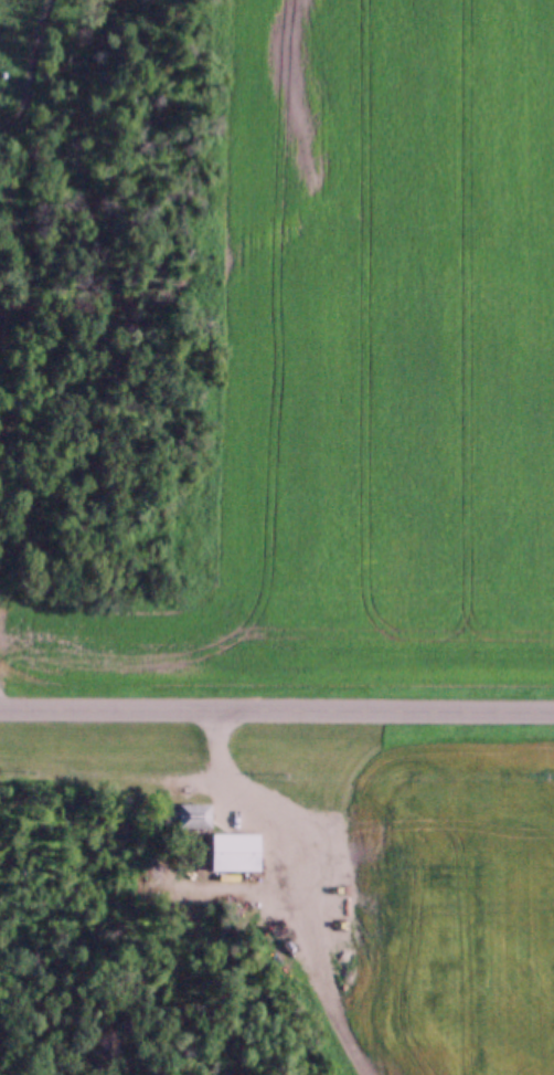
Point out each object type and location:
road: (276, 712)
road: (280, 812)
building: (187, 815)
building: (232, 853)

